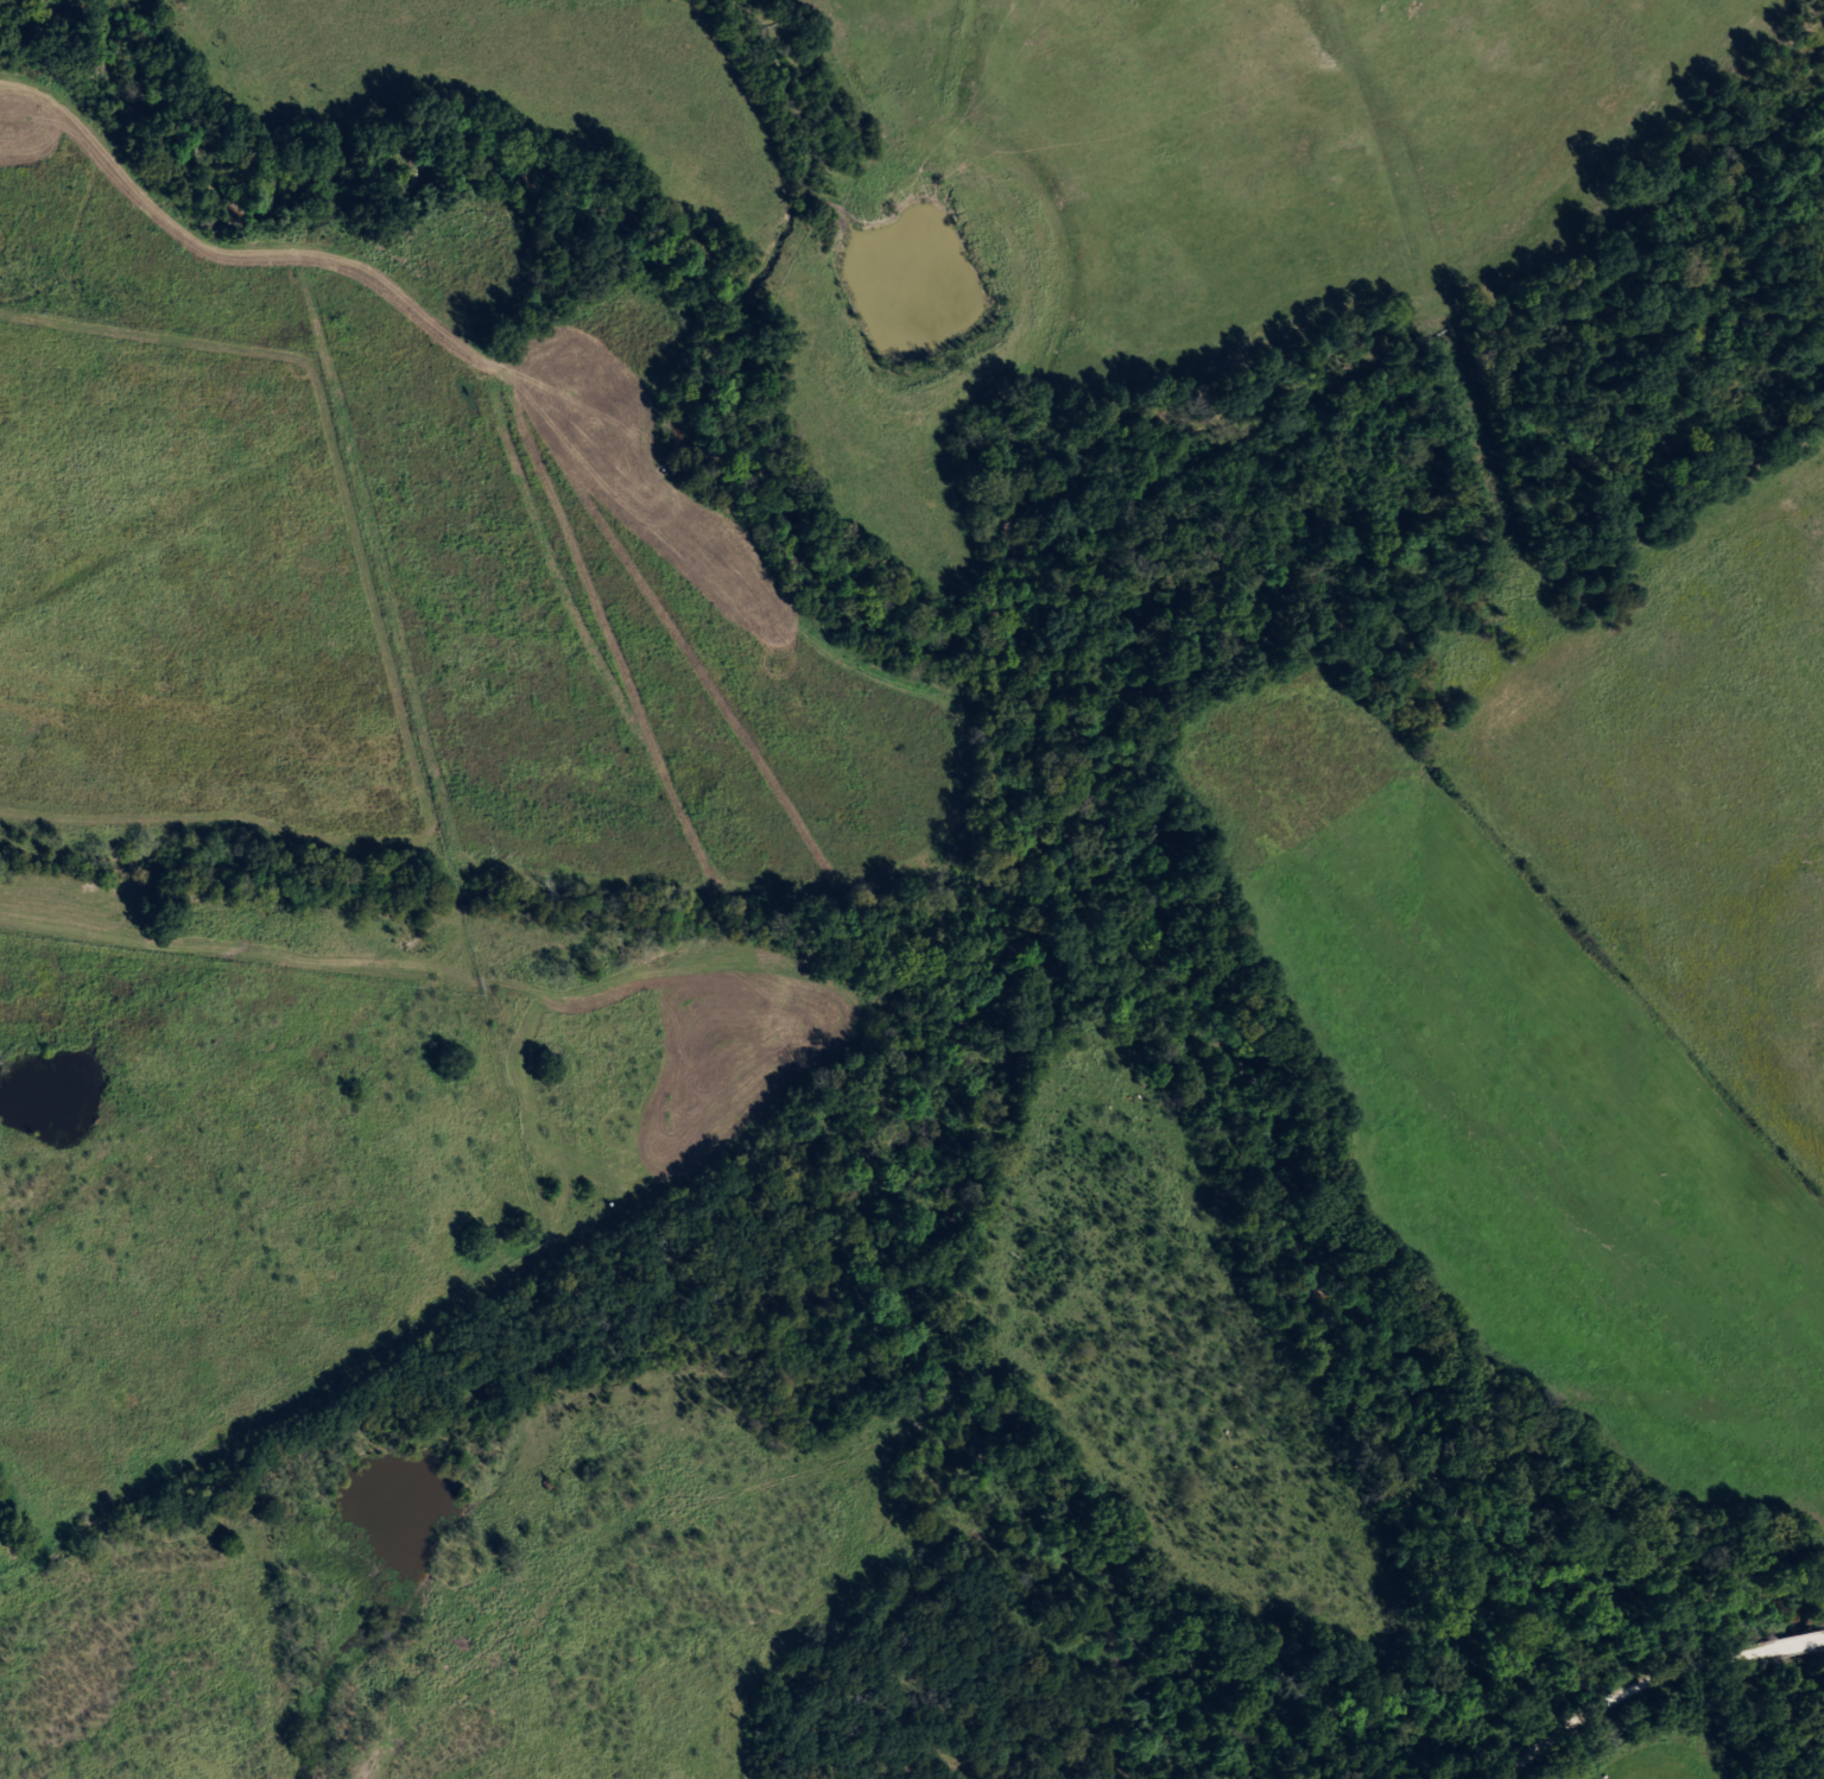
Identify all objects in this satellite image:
road: (1654, 1683)

